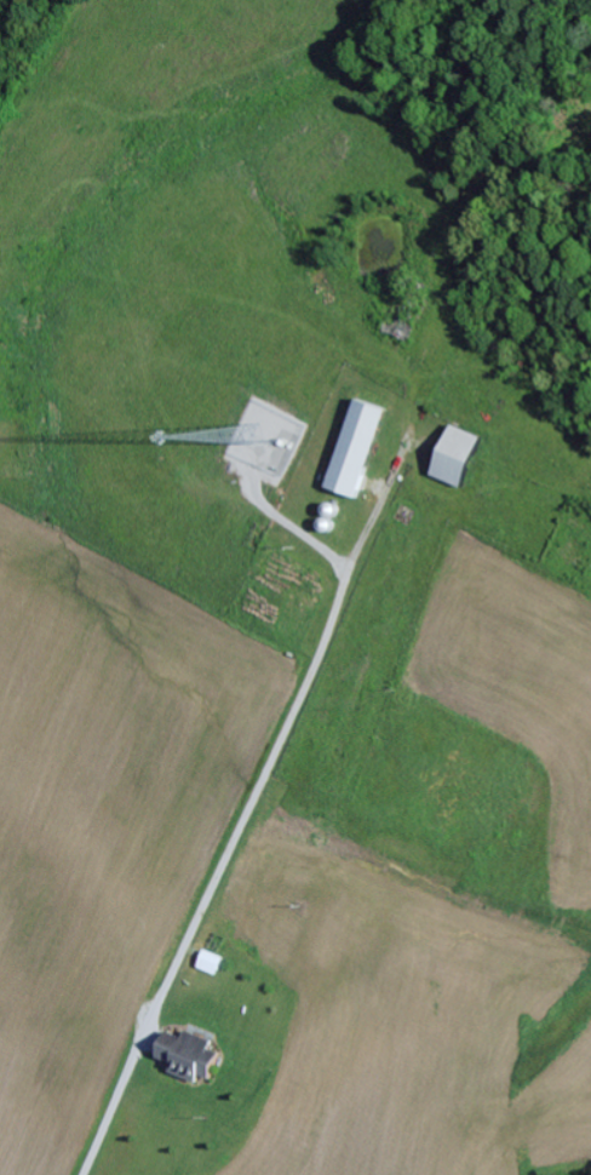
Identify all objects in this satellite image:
building: (352, 448)
building: (453, 455)
building: (208, 963)
building: (184, 1055)

